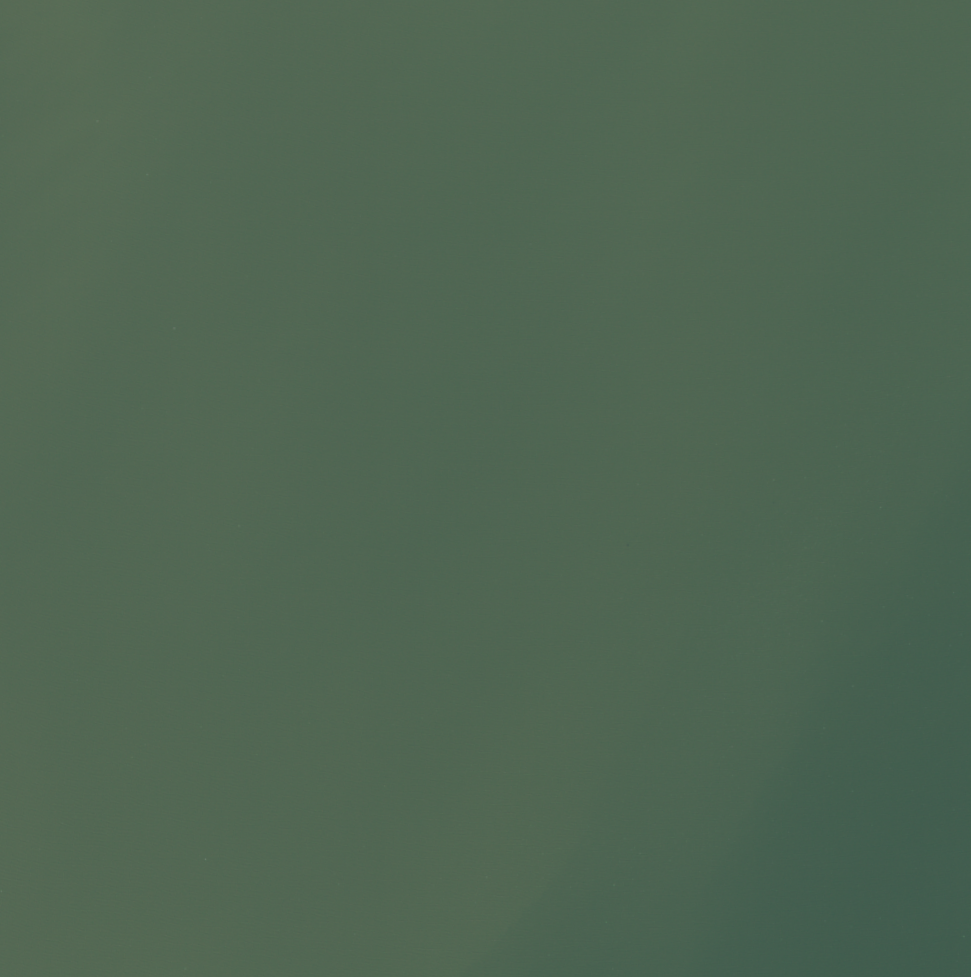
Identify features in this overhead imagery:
river: (132, 844)

